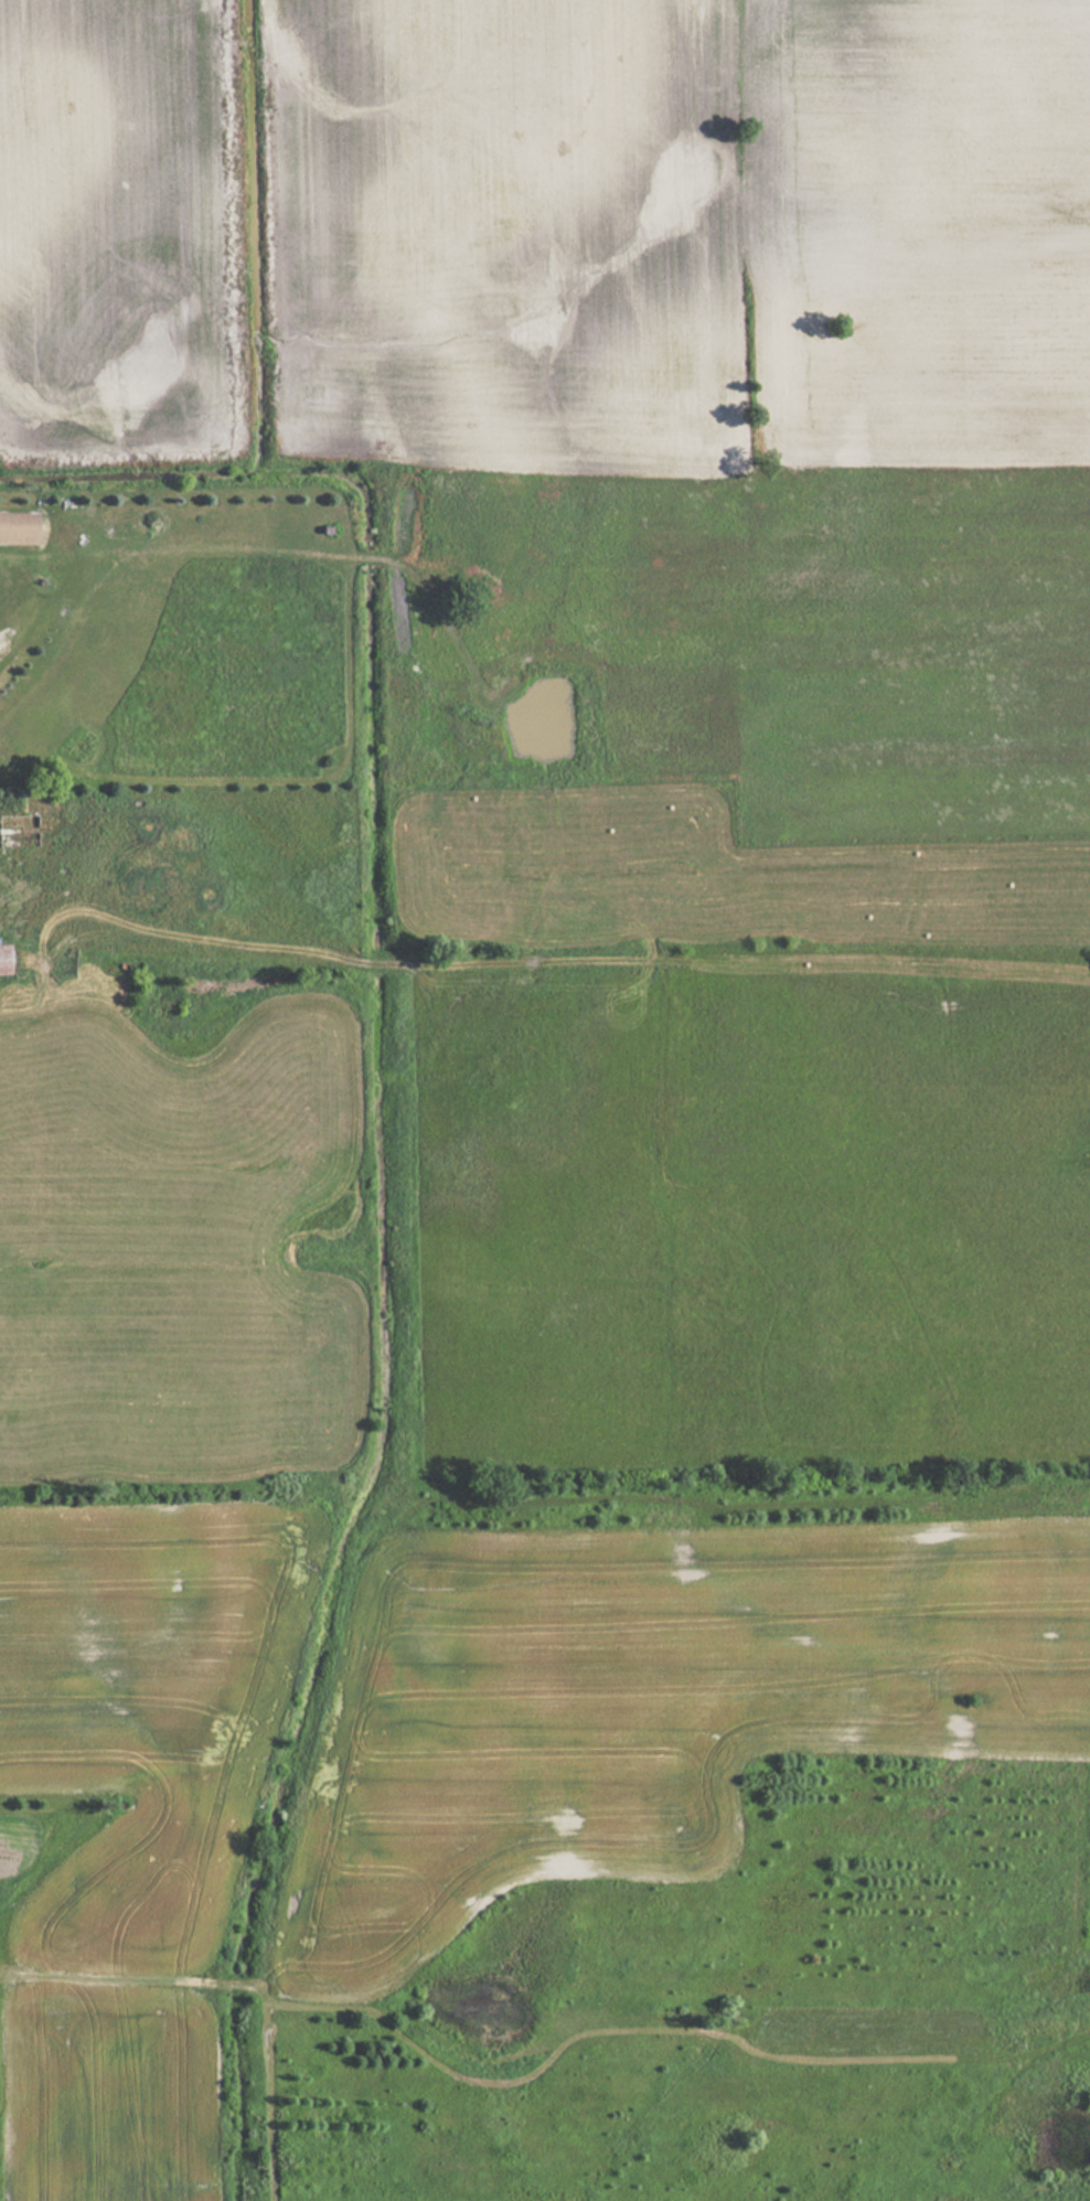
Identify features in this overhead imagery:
building: (18, 527)
building: (3, 960)

